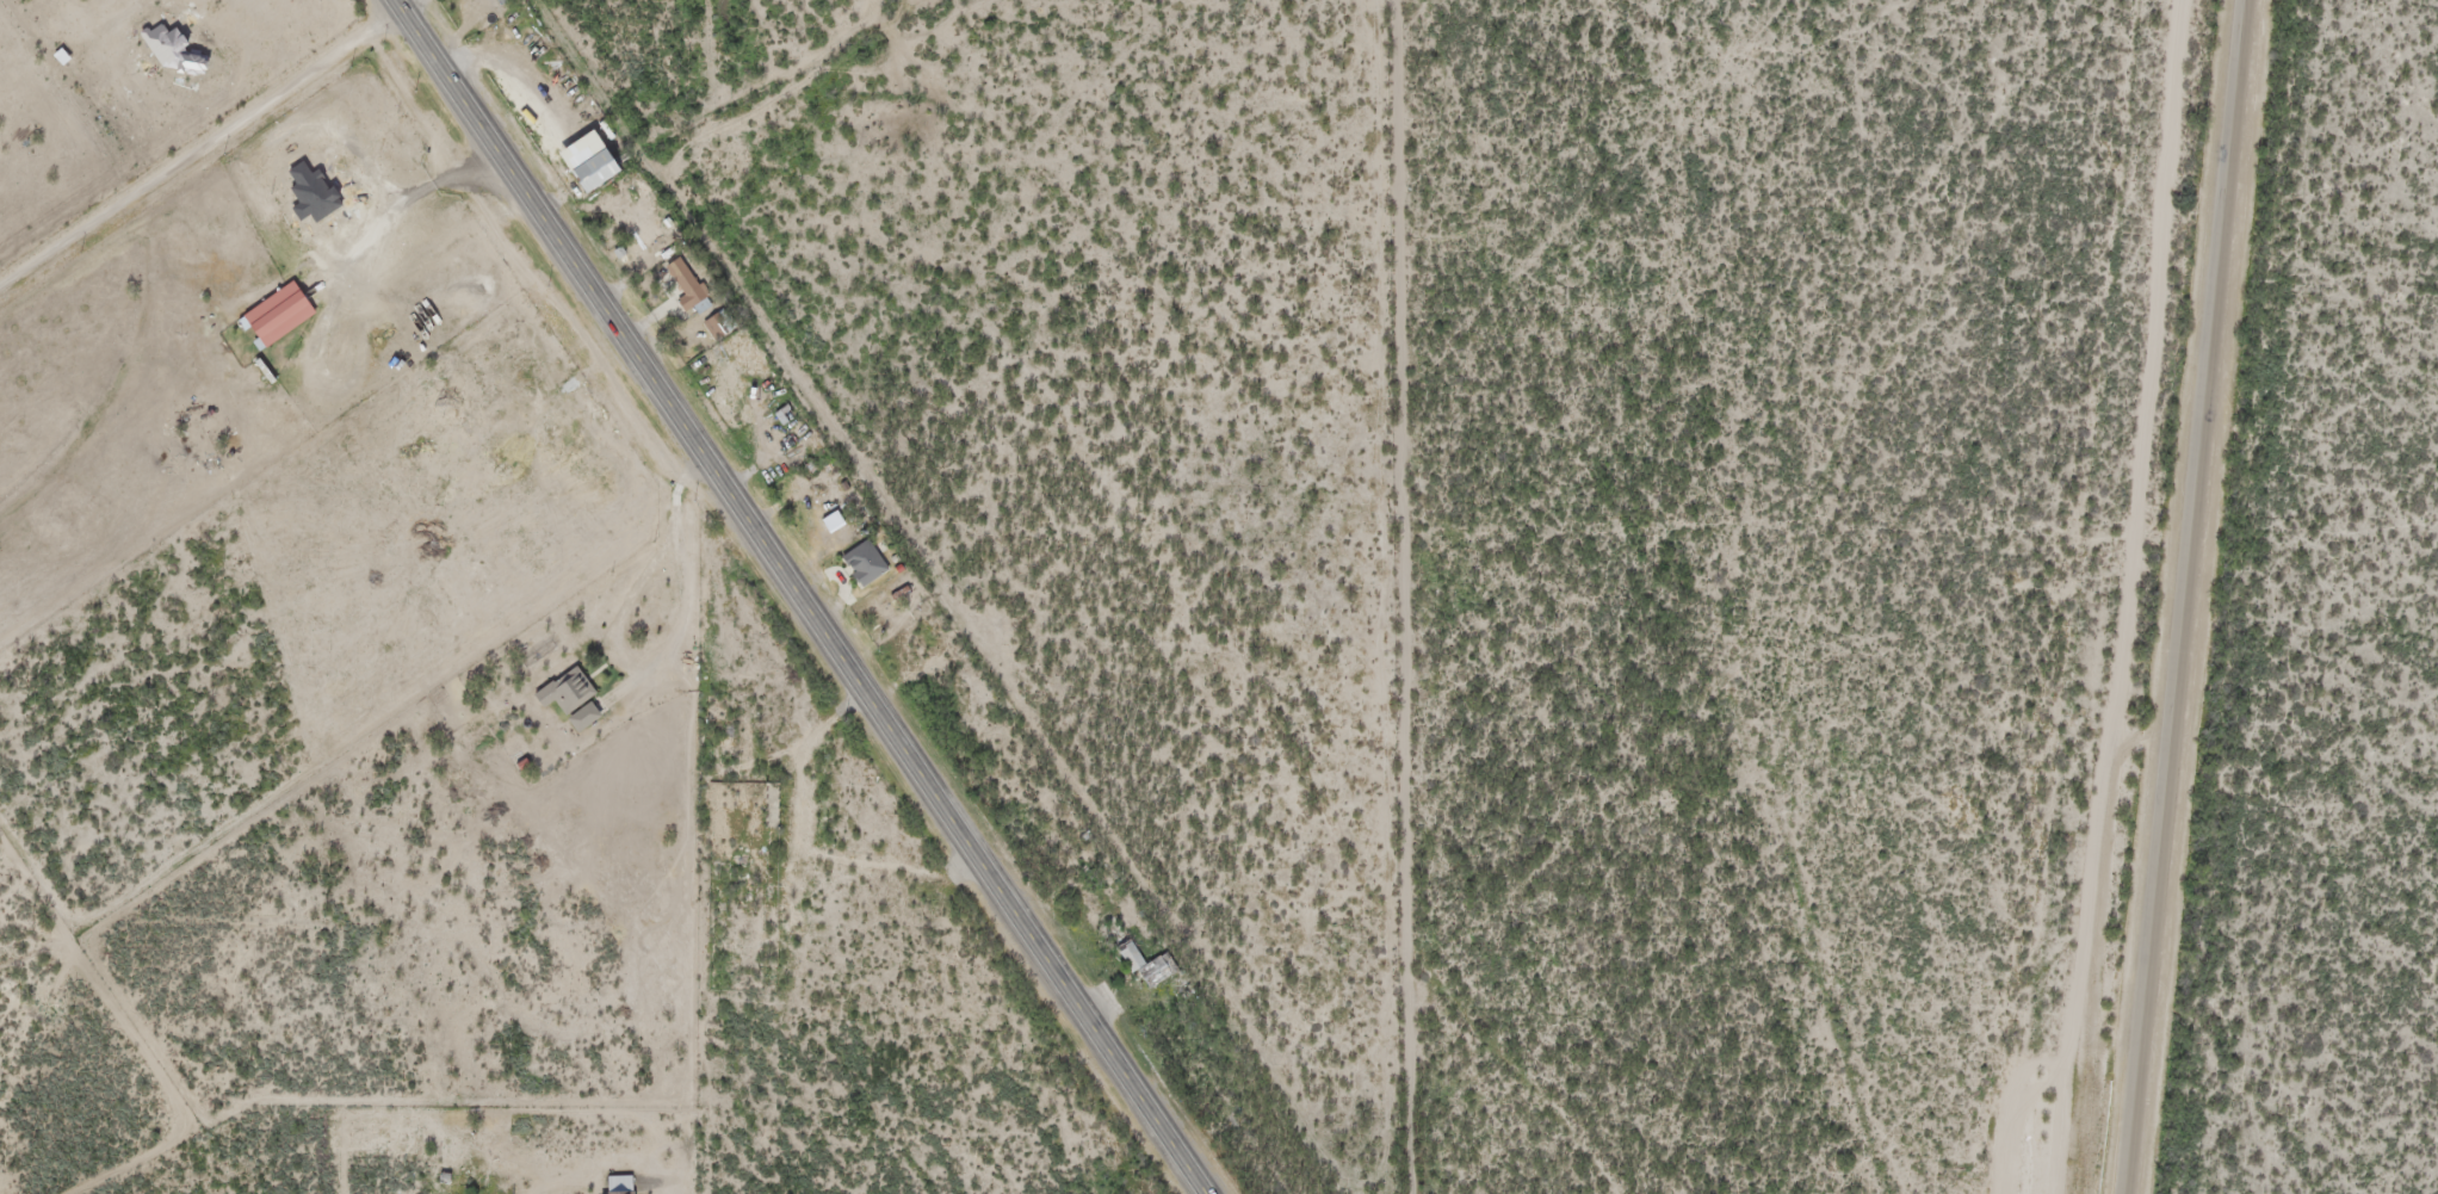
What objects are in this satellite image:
road: (765, 106)
building: (586, 172)
building: (681, 287)
building: (710, 328)
building: (439, 401)
building: (856, 564)
road: (2189, 596)
road: (798, 599)
building: (563, 703)
building: (1139, 967)

